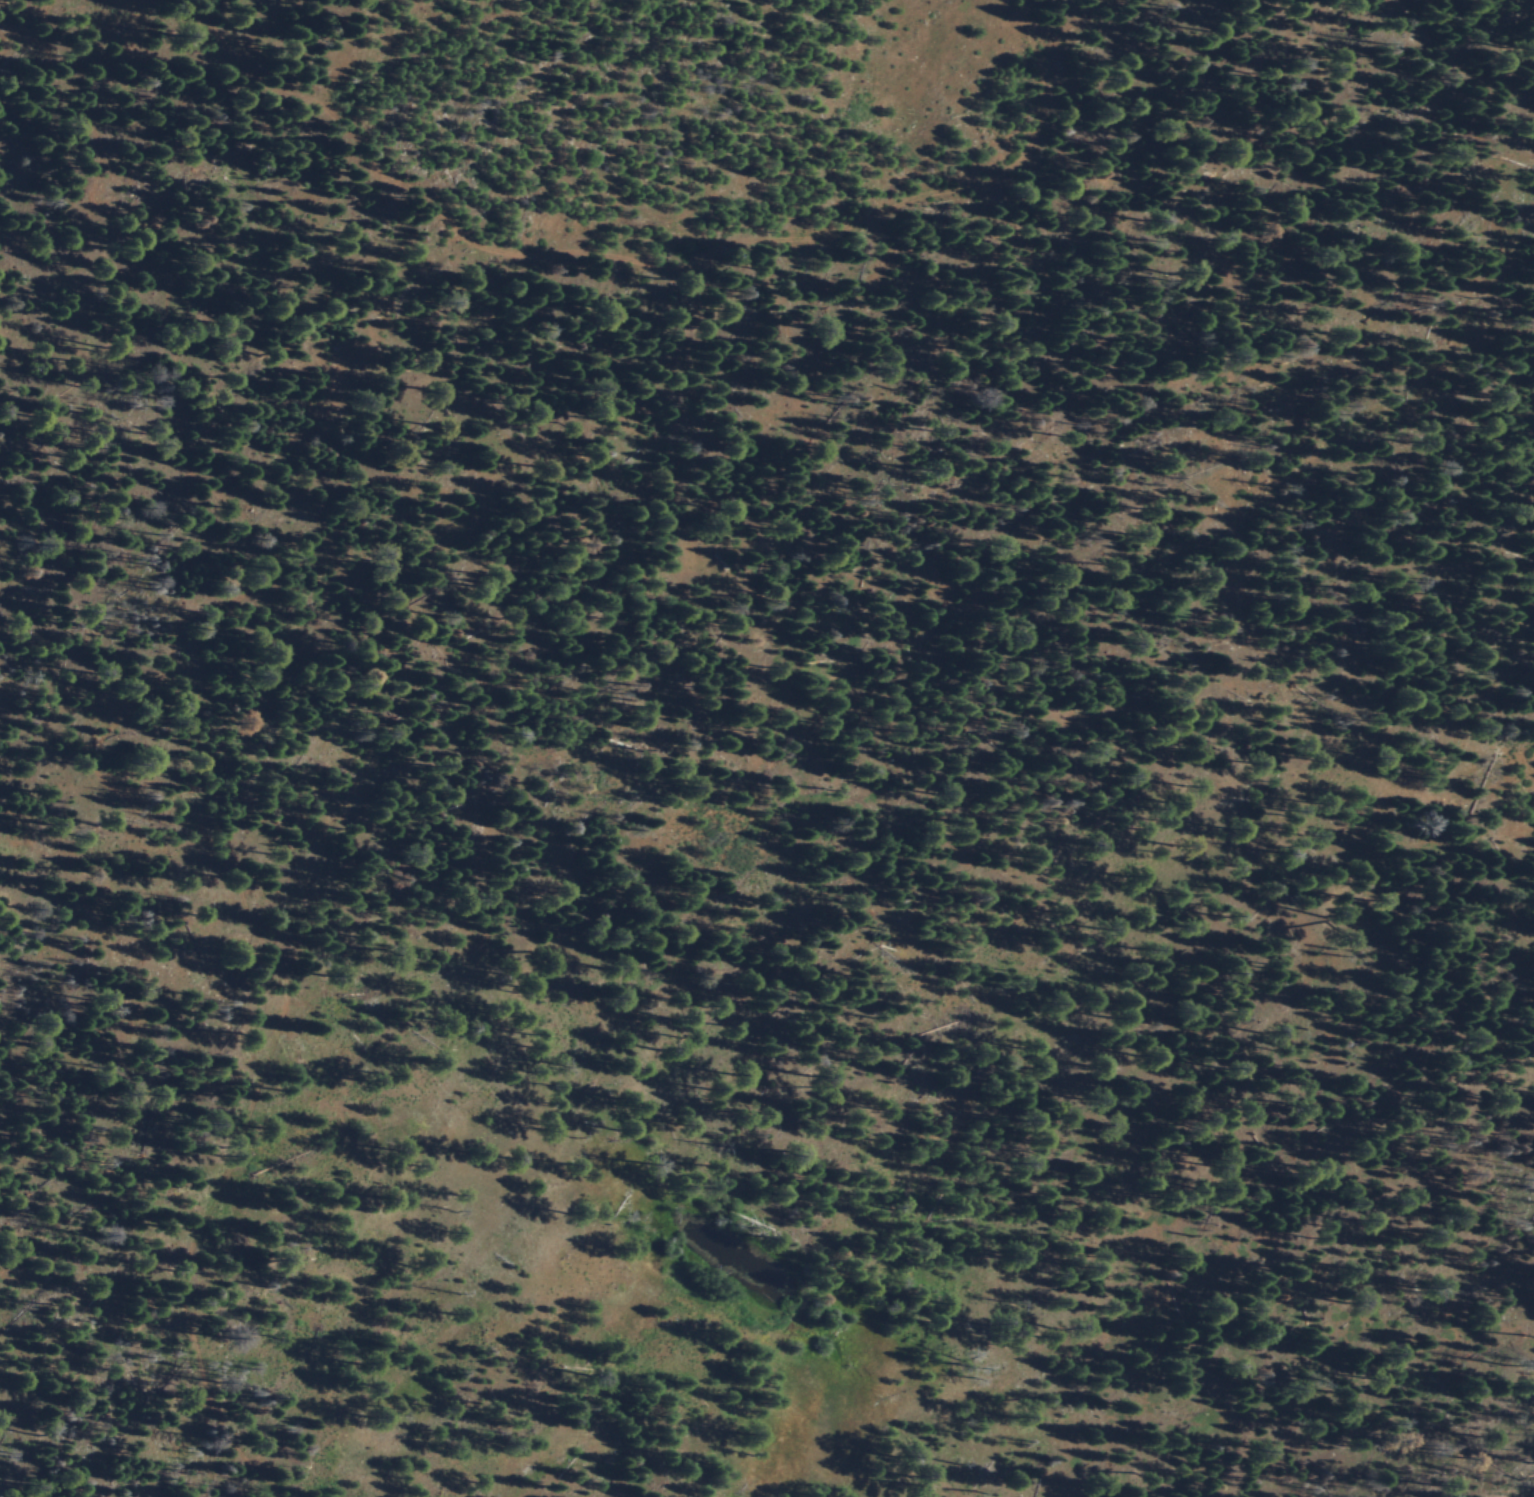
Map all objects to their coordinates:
road: (1182, 377)
road: (334, 560)
road: (1491, 655)
road: (859, 761)

